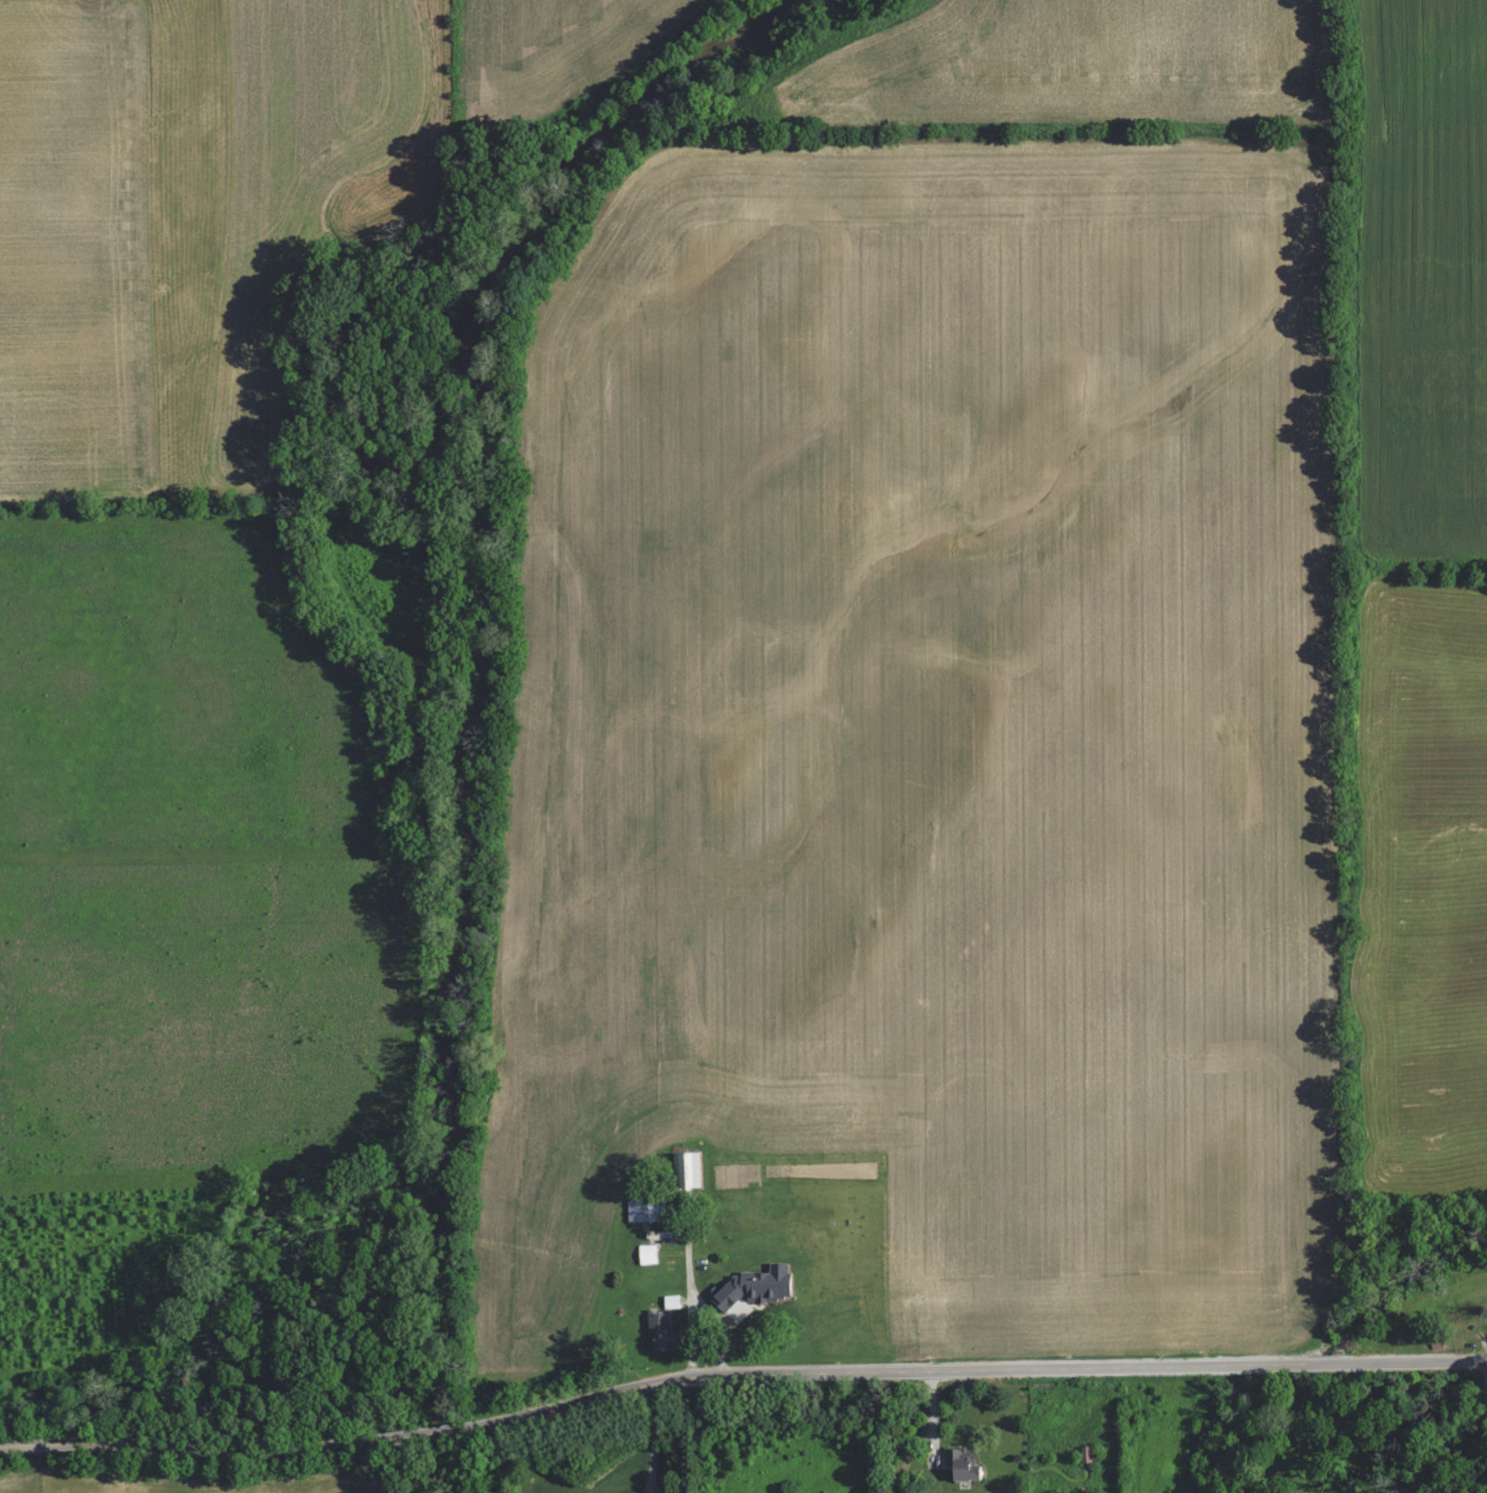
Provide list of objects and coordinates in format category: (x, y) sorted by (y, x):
building: (684, 1168)
building: (659, 1234)
building: (749, 1291)
building: (660, 1329)
road: (1483, 1367)
road: (740, 1379)
road: (1447, 1441)
road: (655, 1442)
building: (961, 1464)

